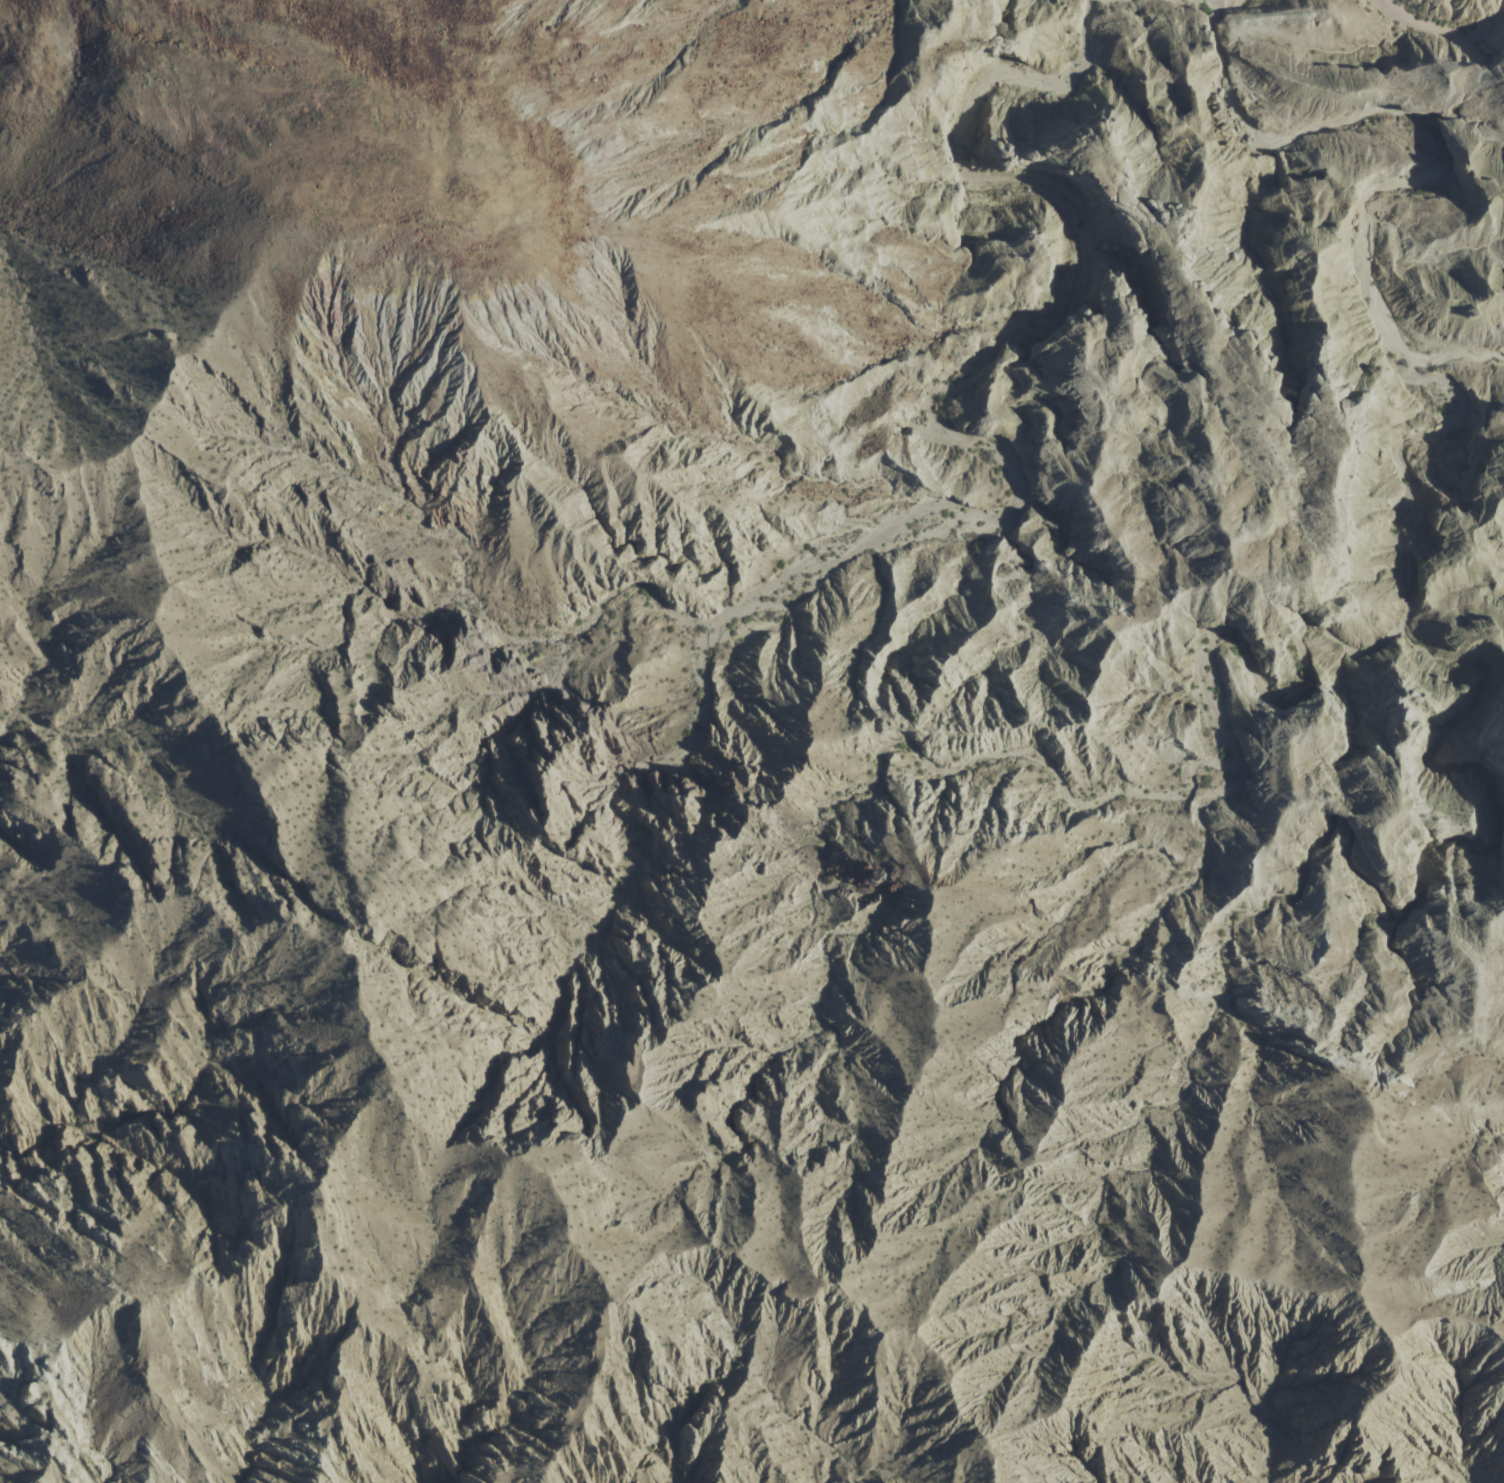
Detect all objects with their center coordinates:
road: (1442, 29)

